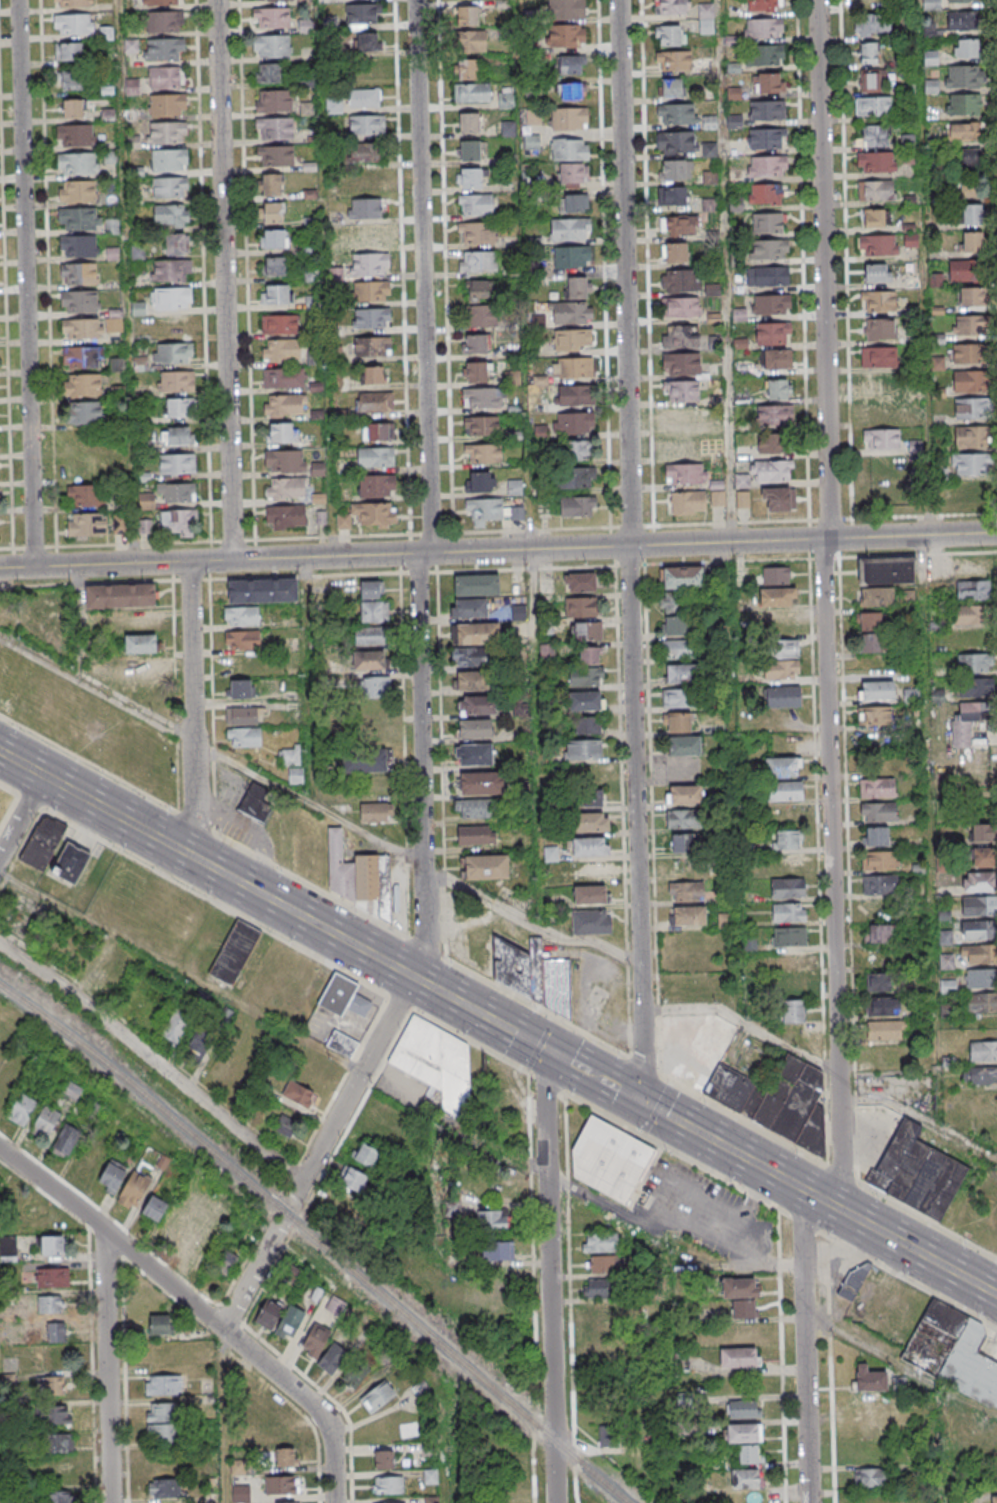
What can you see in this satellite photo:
building: (272, 0)
building: (961, 1)
building: (73, 3)
building: (163, 3)
building: (872, 3)
building: (763, 5)
building: (671, 7)
building: (566, 9)
road: (996, 9)
building: (360, 15)
building: (467, 15)
building: (271, 17)
building: (706, 18)
building: (73, 23)
building: (957, 23)
building: (165, 24)
building: (873, 25)
building: (763, 28)
building: (566, 35)
building: (670, 35)
building: (472, 40)
building: (366, 41)
building: (272, 45)
building: (966, 48)
building: (68, 51)
building: (166, 51)
building: (867, 53)
building: (764, 56)
building: (673, 60)
building: (568, 65)
building: (468, 69)
building: (268, 72)
building: (965, 76)
building: (166, 78)
building: (71, 80)
building: (871, 81)
building: (766, 84)
building: (131, 87)
building: (670, 87)
building: (572, 90)
building: (472, 92)
building: (363, 99)
building: (505, 99)
building: (273, 100)
building: (962, 103)
building: (333, 106)
building: (168, 107)
building: (874, 107)
building: (72, 108)
building: (767, 110)
building: (677, 113)
building: (133, 116)
building: (568, 118)
building: (734, 121)
building: (469, 122)
building: (366, 126)
building: (274, 128)
building: (962, 132)
building: (168, 135)
building: (872, 135)
building: (75, 136)
building: (766, 138)
building: (675, 141)
building: (133, 143)
building: (569, 149)
building: (469, 150)
building: (365, 153)
building: (275, 155)
building: (969, 156)
building: (875, 161)
building: (170, 162)
building: (77, 164)
building: (766, 166)
building: (674, 169)
building: (572, 173)
building: (469, 178)
building: (369, 180)
building: (271, 184)
building: (974, 186)
building: (170, 190)
building: (874, 190)
building: (77, 192)
building: (767, 194)
building: (671, 195)
building: (573, 203)
building: (475, 204)
building: (736, 205)
building: (365, 208)
building: (272, 212)
building: (973, 215)
building: (170, 216)
building: (78, 218)
building: (874, 218)
building: (766, 223)
building: (679, 225)
building: (570, 229)
building: (477, 232)
building: (370, 236)
building: (274, 238)
building: (910, 241)
building: (972, 243)
building: (175, 244)
building: (877, 245)
building: (78, 246)
building: (336, 247)
building: (309, 249)
building: (768, 249)
building: (675, 252)
building: (571, 258)
road: (846, 260)
building: (478, 261)
road: (647, 263)
building: (369, 265)
building: (275, 266)
road: (445, 267)
road: (725, 271)
building: (964, 271)
building: (78, 273)
building: (172, 273)
building: (877, 273)
building: (311, 274)
road: (425, 276)
building: (767, 277)
road: (327, 278)
road: (226, 280)
building: (681, 280)
road: (127, 282)
road: (28, 283)
road: (605, 286)
building: (576, 288)
road: (404, 289)
building: (478, 290)
building: (371, 292)
building: (277, 294)
building: (971, 297)
building: (311, 300)
building: (80, 301)
building: (172, 301)
building: (878, 301)
building: (771, 305)
building: (681, 307)
building: (571, 313)
building: (482, 316)
building: (371, 318)
building: (114, 320)
building: (279, 323)
building: (969, 325)
building: (82, 328)
building: (879, 329)
building: (773, 334)
road: (7, 337)
building: (681, 338)
building: (572, 340)
building: (475, 344)
building: (372, 347)
building: (281, 349)
road: (51, 351)
building: (173, 353)
building: (968, 353)
road: (805, 354)
building: (81, 356)
building: (879, 357)
building: (776, 358)
building: (117, 364)
building: (140, 364)
building: (681, 365)
building: (575, 367)
building: (476, 373)
building: (372, 374)
building: (284, 377)
building: (970, 381)
building: (177, 382)
building: (84, 384)
building: (880, 384)
building: (777, 389)
building: (681, 391)
building: (576, 395)
building: (483, 397)
building: (375, 402)
building: (285, 404)
building: (179, 407)
building: (971, 408)
building: (85, 412)
building: (774, 415)
building: (681, 419)
building: (575, 423)
building: (480, 425)
building: (377, 431)
building: (282, 432)
building: (177, 435)
building: (971, 437)
building: (880, 438)
building: (771, 444)
building: (683, 447)
building: (577, 450)
building: (483, 452)
building: (375, 458)
building: (285, 461)
building: (177, 463)
building: (969, 465)
building: (882, 467)
building: (772, 471)
building: (685, 475)
building: (575, 477)
building: (480, 481)
building: (742, 481)
building: (376, 487)
building: (514, 487)
building: (286, 488)
building: (177, 493)
building: (86, 495)
building: (716, 499)
building: (742, 500)
building: (778, 500)
building: (146, 501)
building: (687, 503)
building: (578, 506)
building: (484, 509)
building: (517, 512)
building: (286, 516)
building: (368, 516)
building: (177, 522)
building: (120, 523)
building: (87, 524)
road: (732, 524)
road: (532, 532)
road: (233, 542)
road: (7, 549)
road: (498, 550)
road: (628, 551)
building: (885, 569)
building: (775, 575)
building: (682, 578)
building: (581, 582)
building: (477, 585)
building: (262, 591)
building: (972, 591)
building: (120, 595)
building: (776, 597)
building: (876, 597)
building: (372, 602)
building: (672, 602)
building: (581, 607)
building: (468, 608)
building: (242, 615)
building: (969, 615)
building: (135, 621)
building: (870, 621)
building: (674, 625)
building: (585, 631)
building: (475, 633)
building: (370, 635)
building: (242, 640)
building: (140, 643)
building: (872, 643)
building: (678, 649)
building: (782, 649)
building: (589, 655)
building: (473, 656)
building: (369, 660)
building: (974, 663)
building: (100, 666)
building: (135, 669)
building: (780, 669)
building: (683, 673)
building: (586, 677)
building: (471, 680)
building: (374, 687)
building: (973, 688)
building: (239, 689)
building: (875, 690)
building: (910, 696)
building: (782, 697)
building: (679, 698)
building: (586, 701)
building: (476, 704)
road: (192, 710)
building: (293, 712)
building: (243, 715)
building: (874, 715)
building: (677, 721)
building: (967, 722)
building: (587, 726)
building: (474, 728)
building: (375, 731)
building: (244, 737)
road: (538, 739)
building: (683, 745)
building: (583, 749)
road: (210, 751)
building: (473, 753)
building: (289, 756)
road: (830, 758)
building: (365, 760)
building: (782, 766)
building: (479, 782)
road: (8, 787)
building: (875, 787)
building: (785, 791)
building: (684, 795)
building: (593, 797)
road: (30, 800)
building: (255, 803)
building: (472, 808)
building: (375, 812)
building: (877, 812)
road: (21, 816)
building: (684, 818)
building: (592, 821)
building: (982, 832)
building: (475, 834)
building: (874, 836)
building: (785, 839)
building: (682, 842)
building: (43, 843)
building: (588, 846)
building: (982, 857)
building: (880, 860)
building: (71, 863)
building: (486, 866)
building: (685, 867)
building: (591, 871)
building: (365, 880)
building: (978, 881)
road: (313, 884)
building: (880, 884)
building: (787, 887)
building: (686, 891)
building: (589, 894)
road: (424, 896)
road: (271, 900)
road: (215, 902)
building: (979, 905)
building: (788, 912)
building: (689, 915)
road: (530, 921)
building: (591, 921)
building: (978, 930)
building: (877, 933)
building: (788, 936)
building: (235, 953)
building: (979, 955)
building: (789, 960)
building: (534, 976)
building: (981, 979)
building: (878, 982)
building: (793, 985)
building: (343, 998)
road: (399, 1002)
building: (980, 1004)
building: (883, 1006)
building: (793, 1020)
road: (744, 1022)
building: (174, 1028)
building: (885, 1029)
road: (469, 1040)
building: (201, 1043)
building: (342, 1044)
road: (539, 1044)
traffic signals: (543, 1049)
building: (982, 1050)
building: (884, 1055)
road: (154, 1061)
road: (565, 1061)
building: (435, 1063)
road: (649, 1067)
building: (978, 1075)
road: (594, 1076)
building: (744, 1080)
road: (544, 1082)
road: (622, 1091)
building: (71, 1093)
building: (298, 1095)
building: (984, 1100)
traffic signals: (644, 1103)
road: (656, 1107)
building: (21, 1109)
road: (357, 1111)
road: (920, 1118)
building: (45, 1123)
building: (65, 1142)
road: (676, 1152)
building: (366, 1156)
building: (610, 1162)
road: (833, 1169)
building: (917, 1172)
building: (112, 1177)
building: (353, 1181)
building: (135, 1188)
road: (820, 1200)
building: (154, 1210)
building: (492, 1220)
road: (804, 1223)
building: (178, 1225)
railway: (317, 1240)
building: (600, 1243)
building: (51, 1245)
building: (199, 1248)
building: (497, 1250)
building: (606, 1264)
building: (224, 1265)
road: (251, 1275)
road: (549, 1275)
building: (52, 1277)
road: (909, 1279)
building: (855, 1280)
road: (167, 1284)
building: (597, 1288)
building: (741, 1296)
road: (568, 1297)
road: (210, 1301)
building: (51, 1306)
building: (600, 1312)
road: (189, 1314)
building: (268, 1314)
building: (289, 1323)
building: (159, 1325)
building: (746, 1332)
building: (54, 1333)
building: (315, 1340)
building: (952, 1352)
building: (740, 1357)
building: (332, 1358)
road: (105, 1366)
building: (355, 1375)
building: (870, 1379)
building: (53, 1385)
building: (163, 1385)
building: (377, 1396)
building: (871, 1405)
building: (744, 1408)
building: (162, 1412)
building: (55, 1414)
road: (223, 1416)
building: (870, 1428)
building: (743, 1432)
building: (162, 1433)
building: (605, 1435)
building: (59, 1443)
building: (749, 1453)
building: (285, 1456)
building: (383, 1459)
road: (332, 1464)
building: (430, 1476)
building: (870, 1477)
building: (745, 1478)
building: (388, 1484)
building: (281, 1485)
building: (165, 1488)
building: (57, 1498)
building: (993, 1499)

